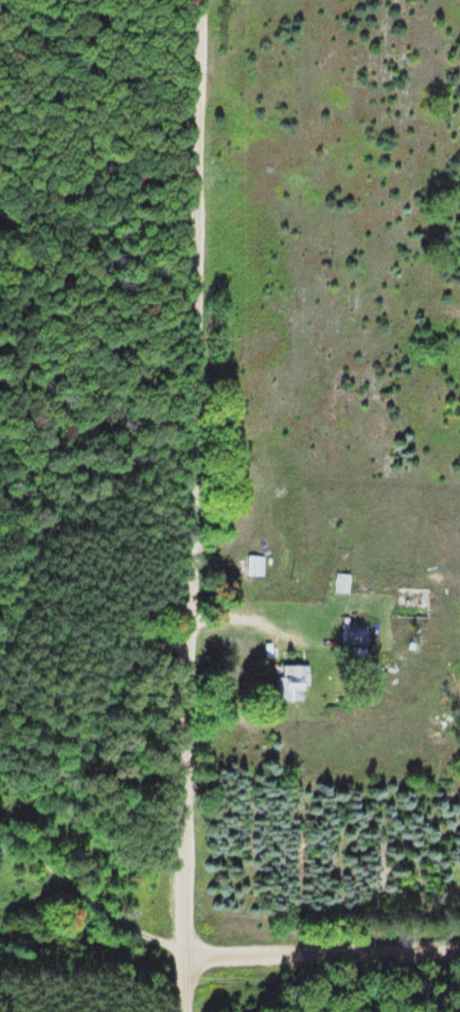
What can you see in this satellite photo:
road: (191, 505)
building: (256, 565)
building: (345, 582)
building: (356, 635)
building: (294, 683)
road: (323, 950)

